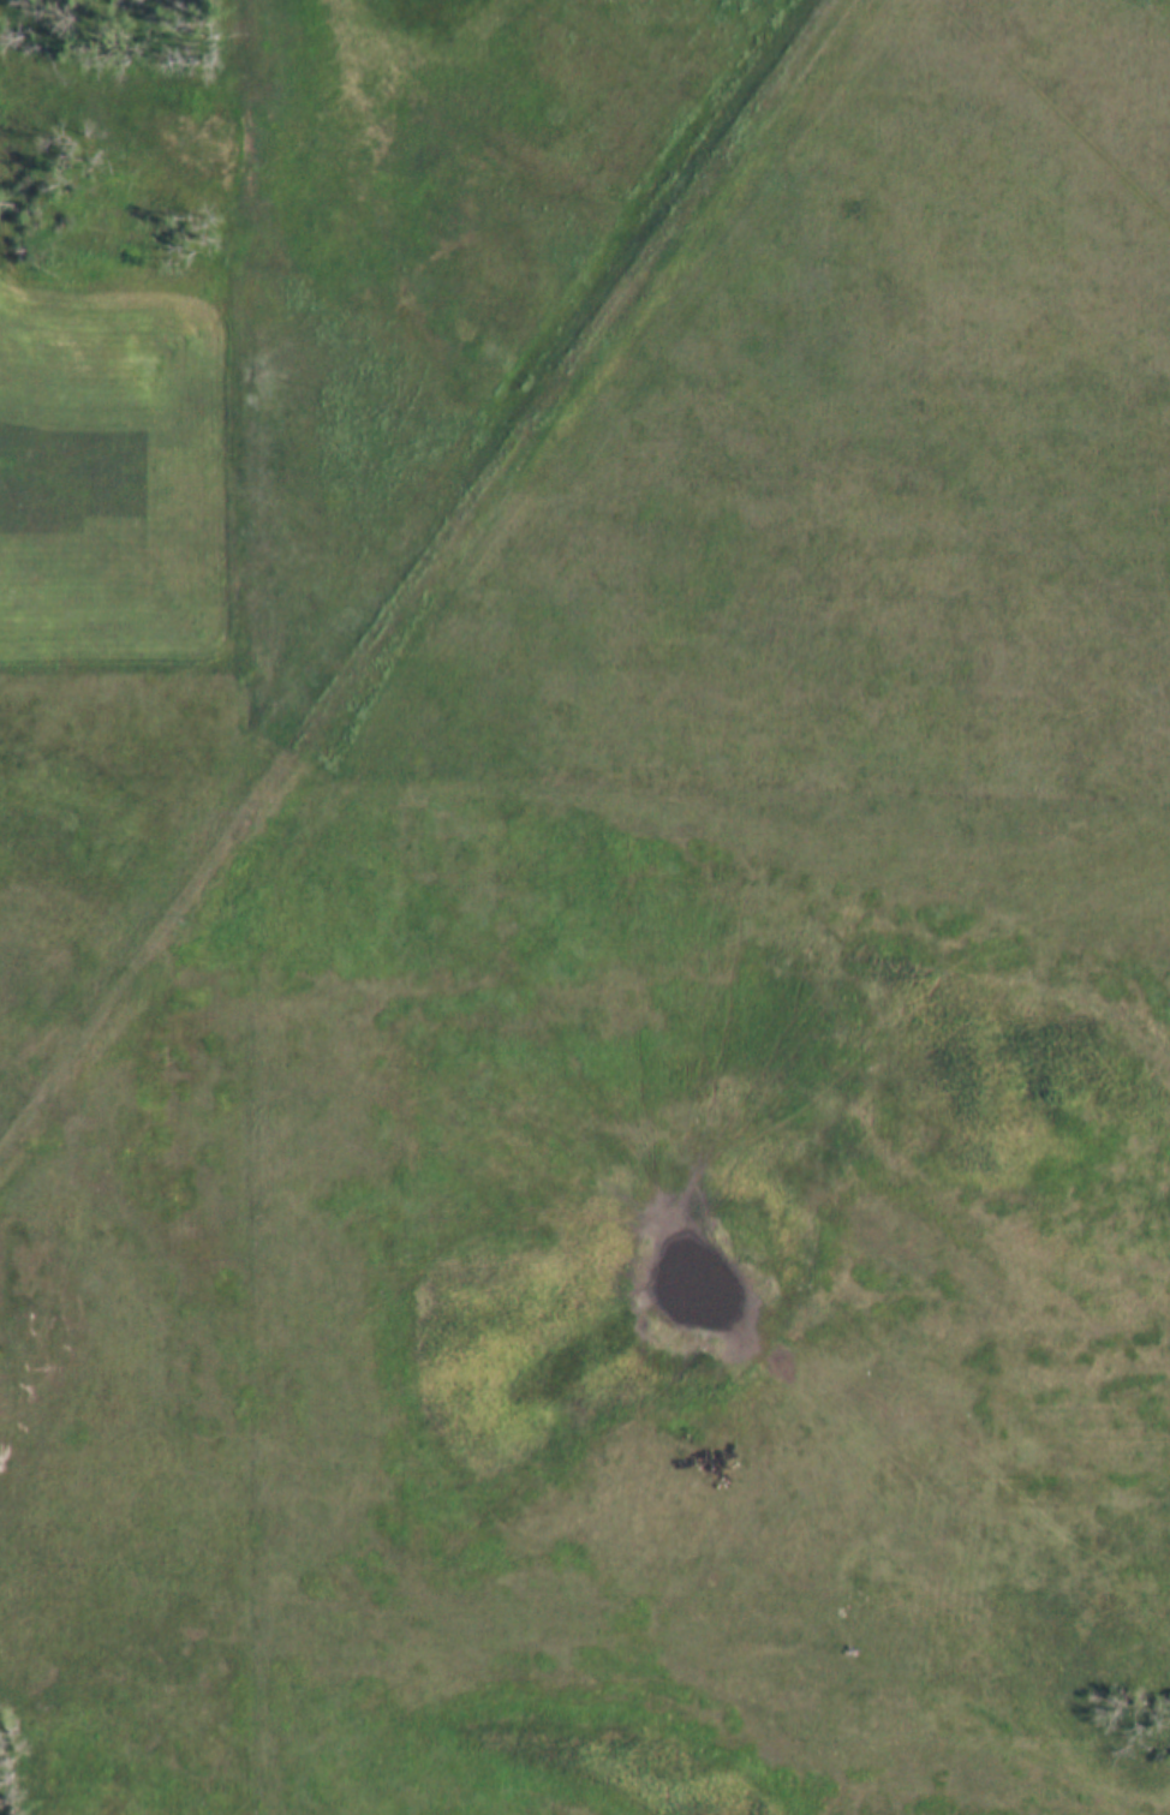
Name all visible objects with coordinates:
road: (1062, 105)

